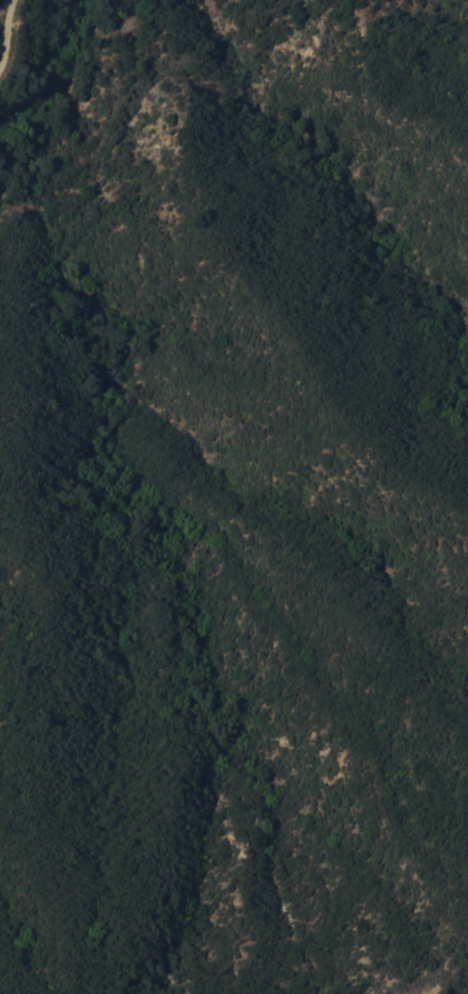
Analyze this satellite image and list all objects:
road: (7, 32)
road: (165, 69)

